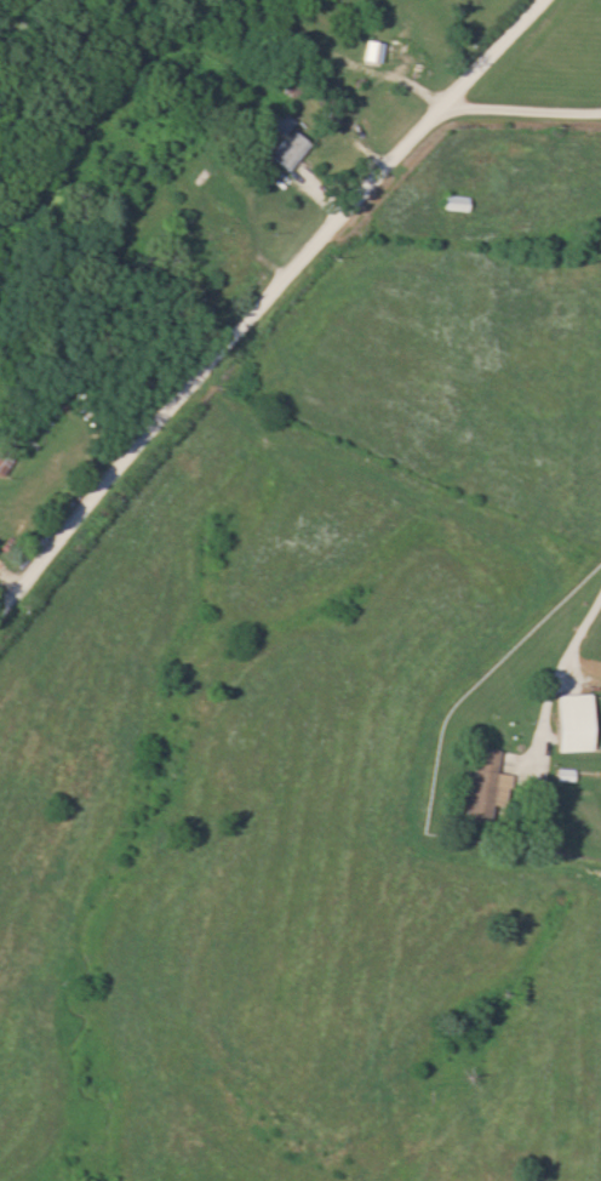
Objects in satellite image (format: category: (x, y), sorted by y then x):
building: (370, 52)
building: (402, 56)
road: (519, 110)
building: (286, 144)
building: (453, 202)
building: (189, 255)
road: (263, 295)
road: (555, 663)
building: (571, 721)
building: (483, 785)

